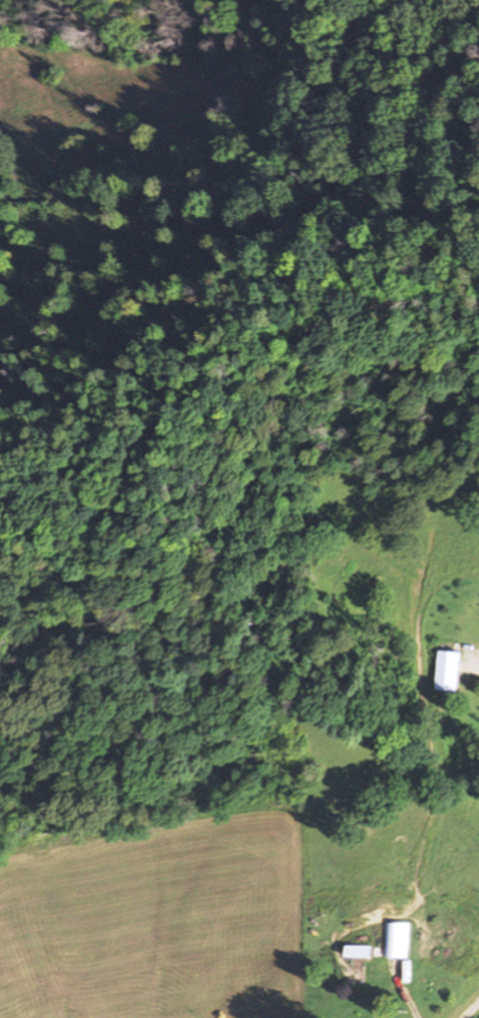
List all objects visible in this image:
building: (453, 671)
building: (361, 951)
road: (471, 1009)

